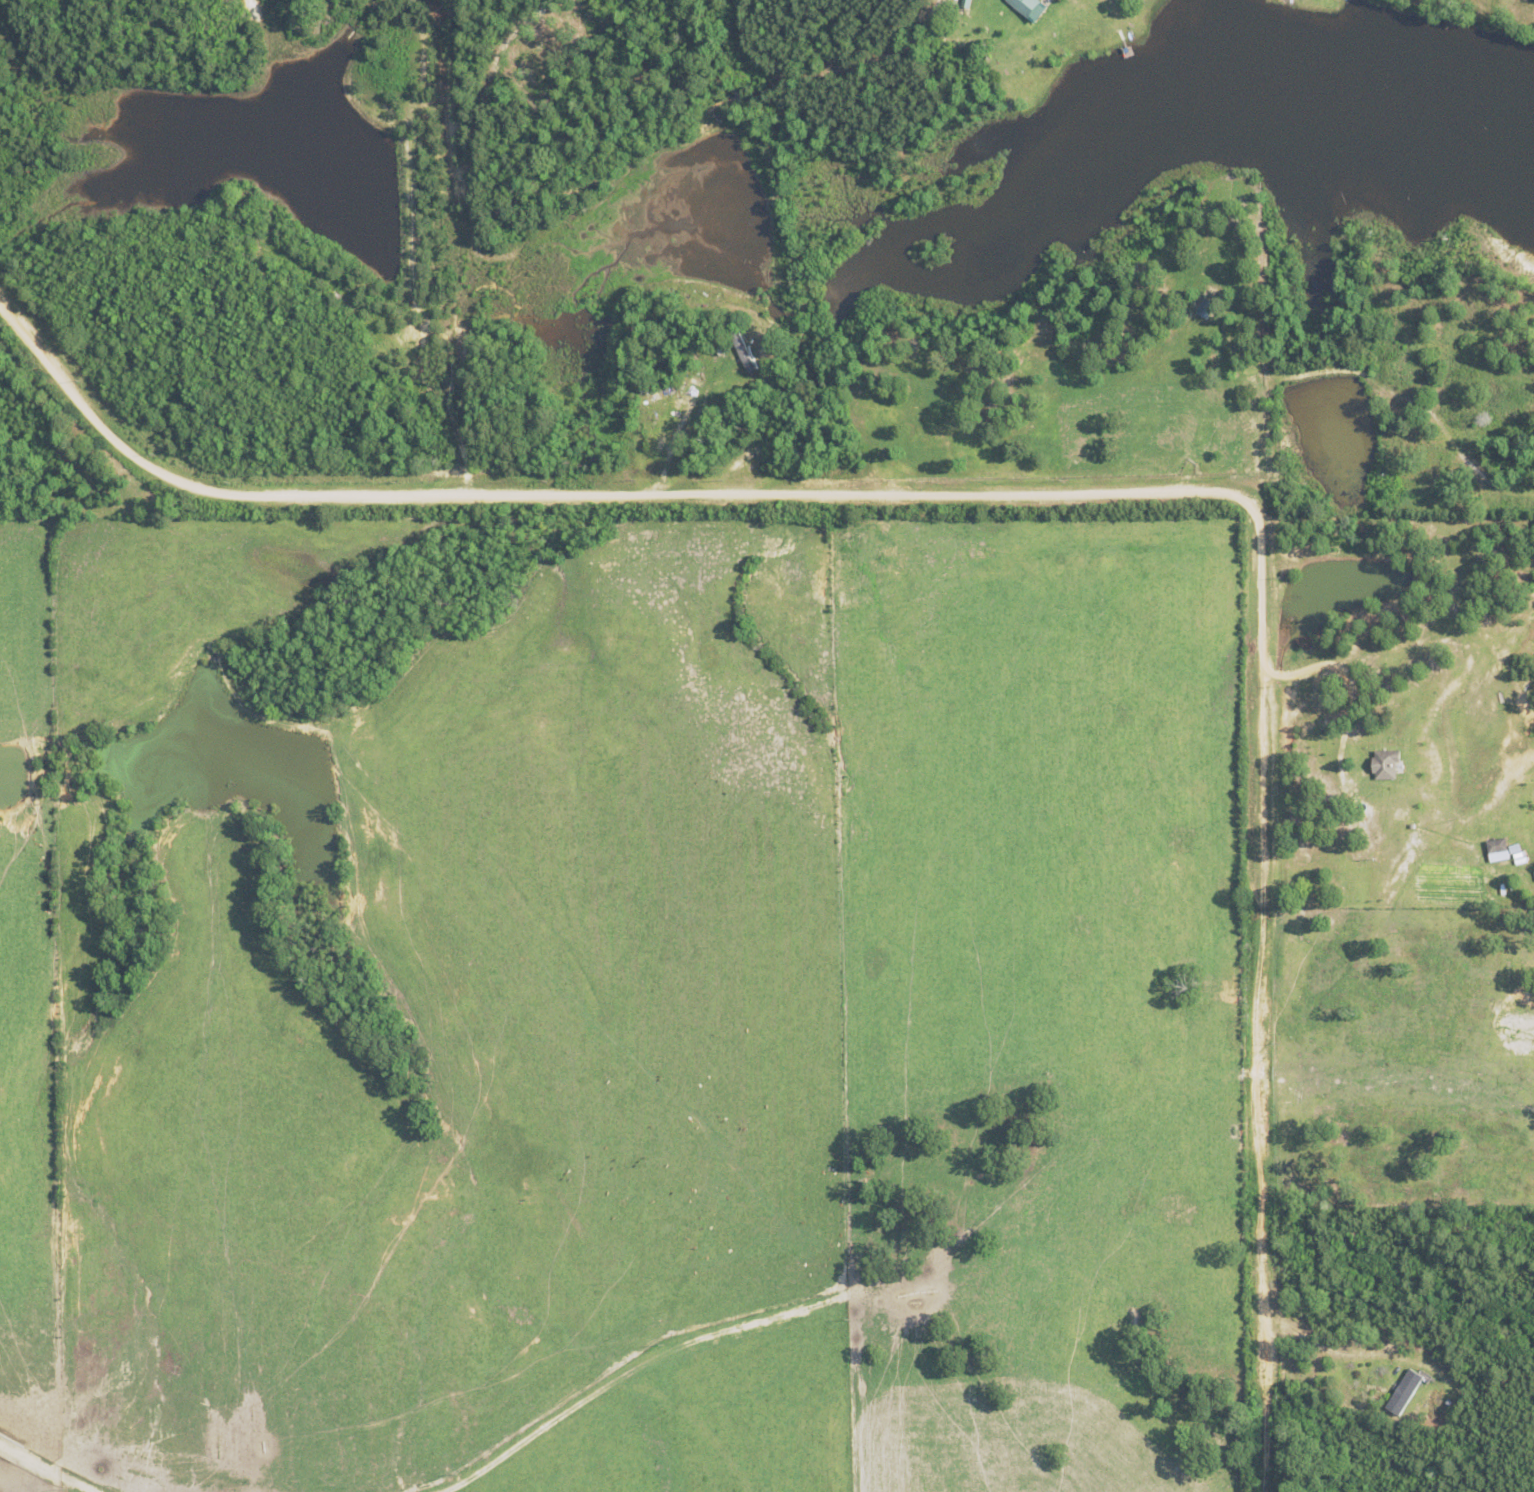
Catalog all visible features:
building: (963, 3)
building: (1026, 7)
road: (470, 242)
building: (741, 350)
road: (1085, 494)
building: (1382, 763)
building: (1494, 849)
building: (1403, 1391)

